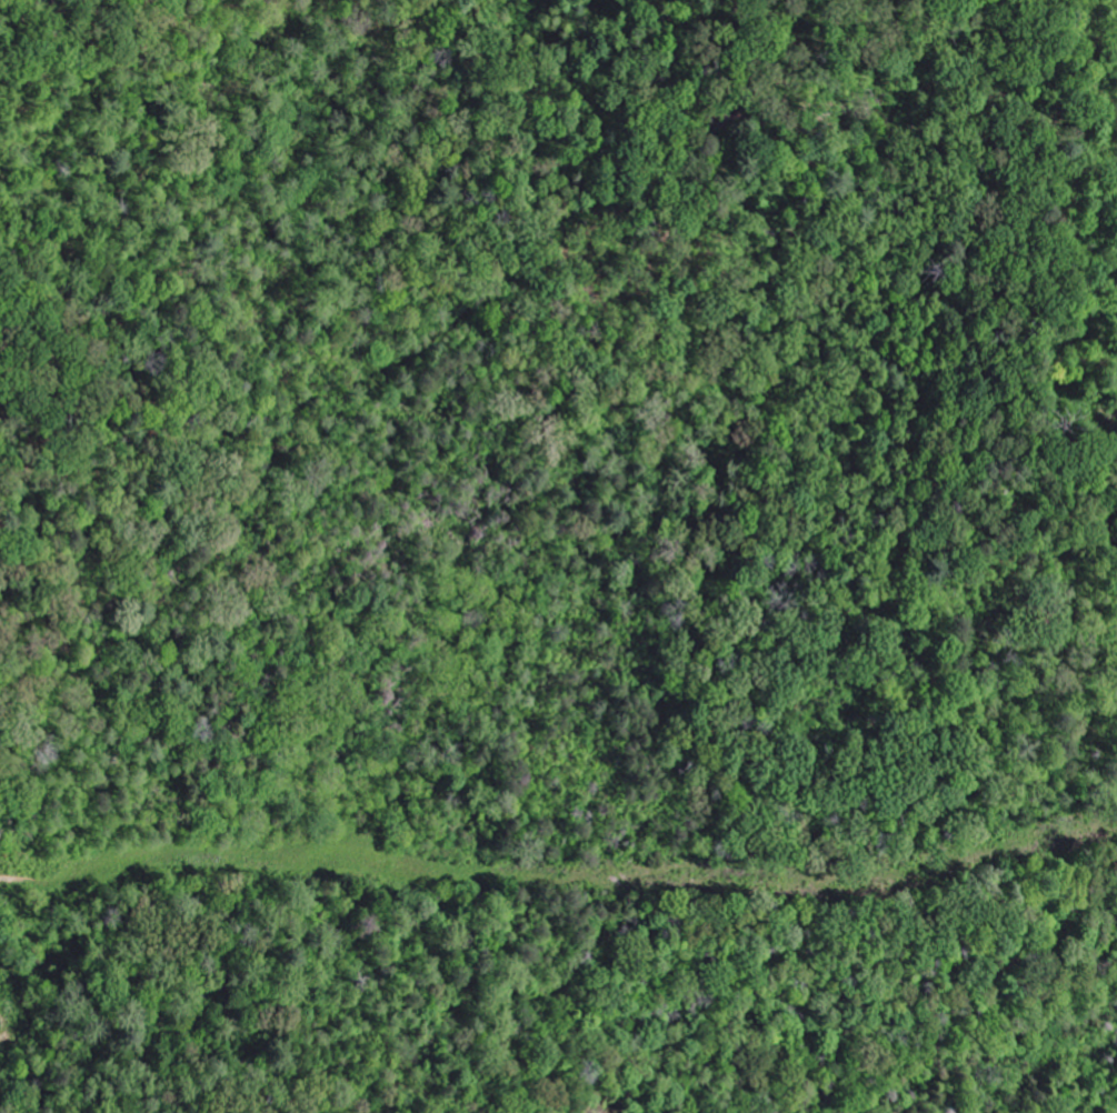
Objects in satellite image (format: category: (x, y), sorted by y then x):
road: (997, 91)

